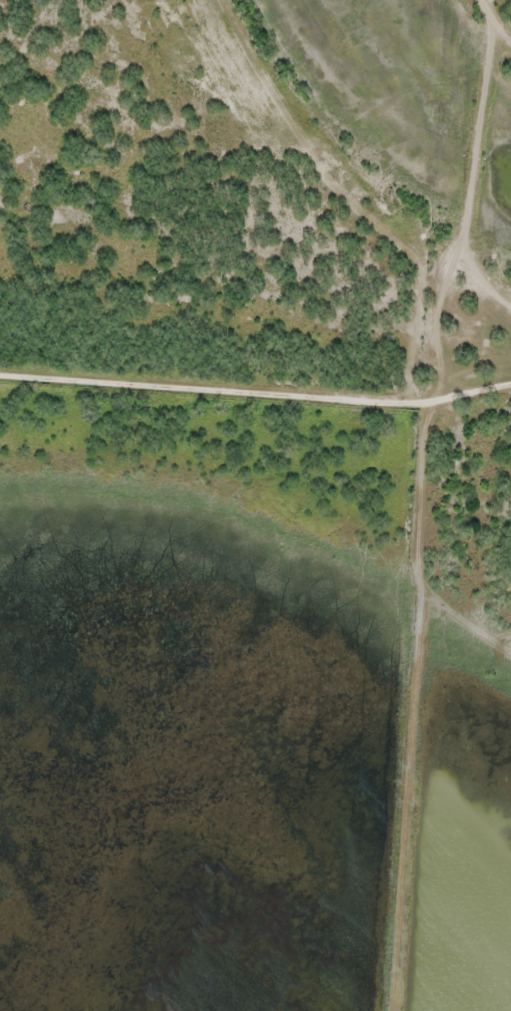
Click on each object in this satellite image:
road: (348, 378)

